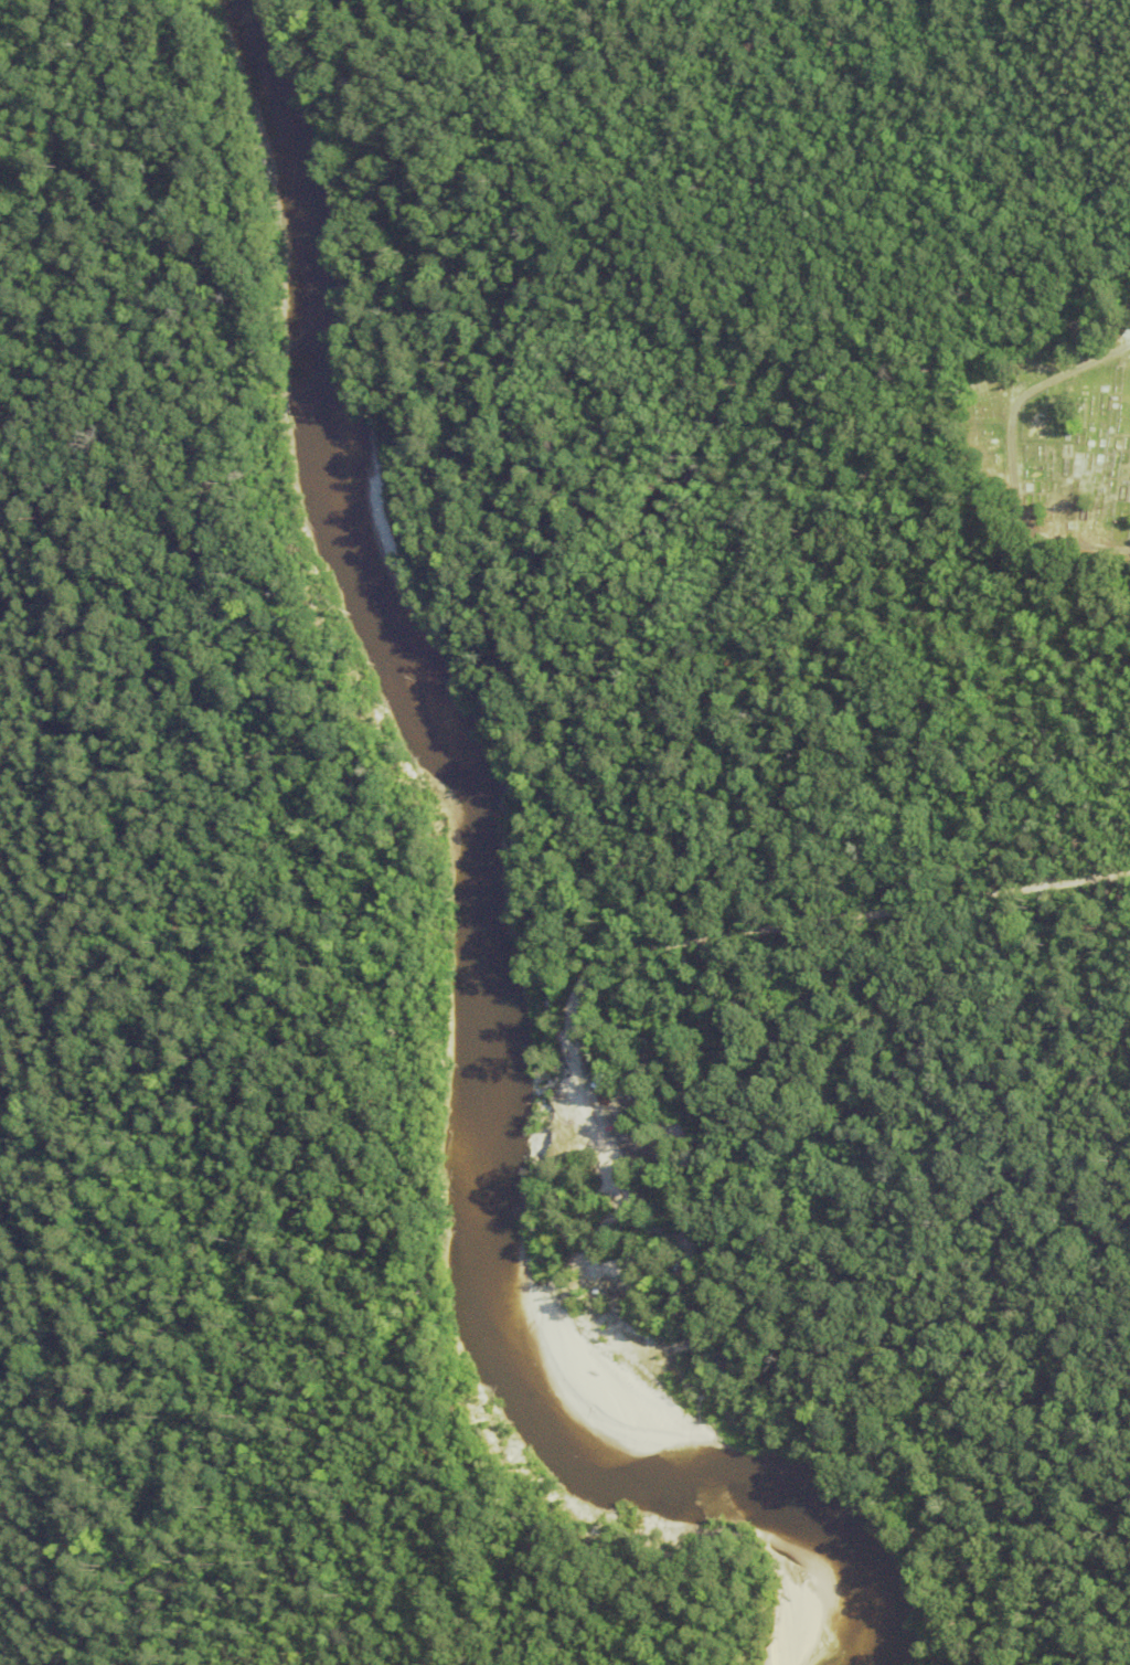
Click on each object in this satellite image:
river: (482, 930)
road: (583, 1118)

